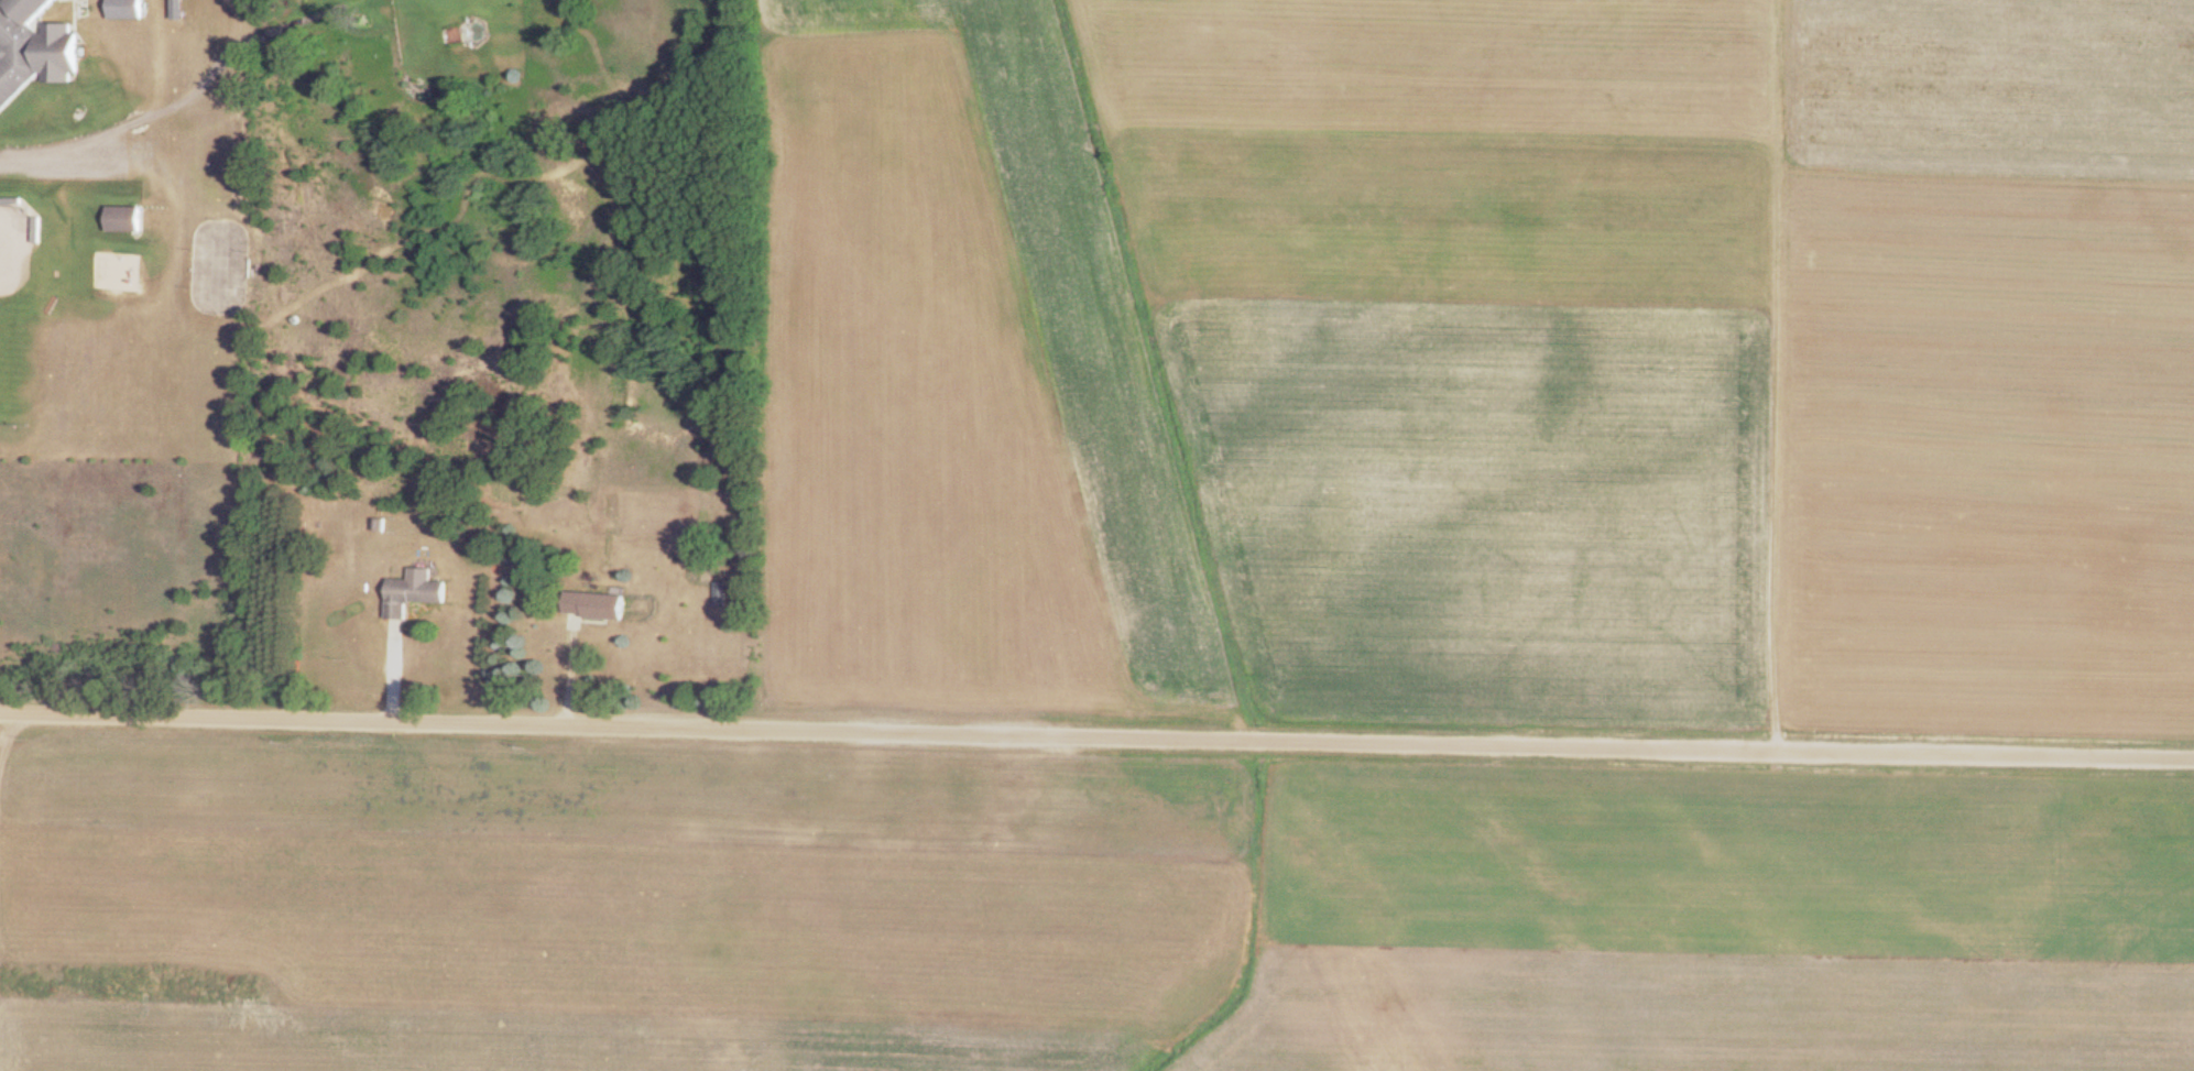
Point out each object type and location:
building: (128, 11)
building: (179, 11)
building: (33, 51)
road: (121, 131)
building: (124, 221)
building: (721, 597)
building: (416, 598)
building: (598, 610)
road: (1096, 735)

